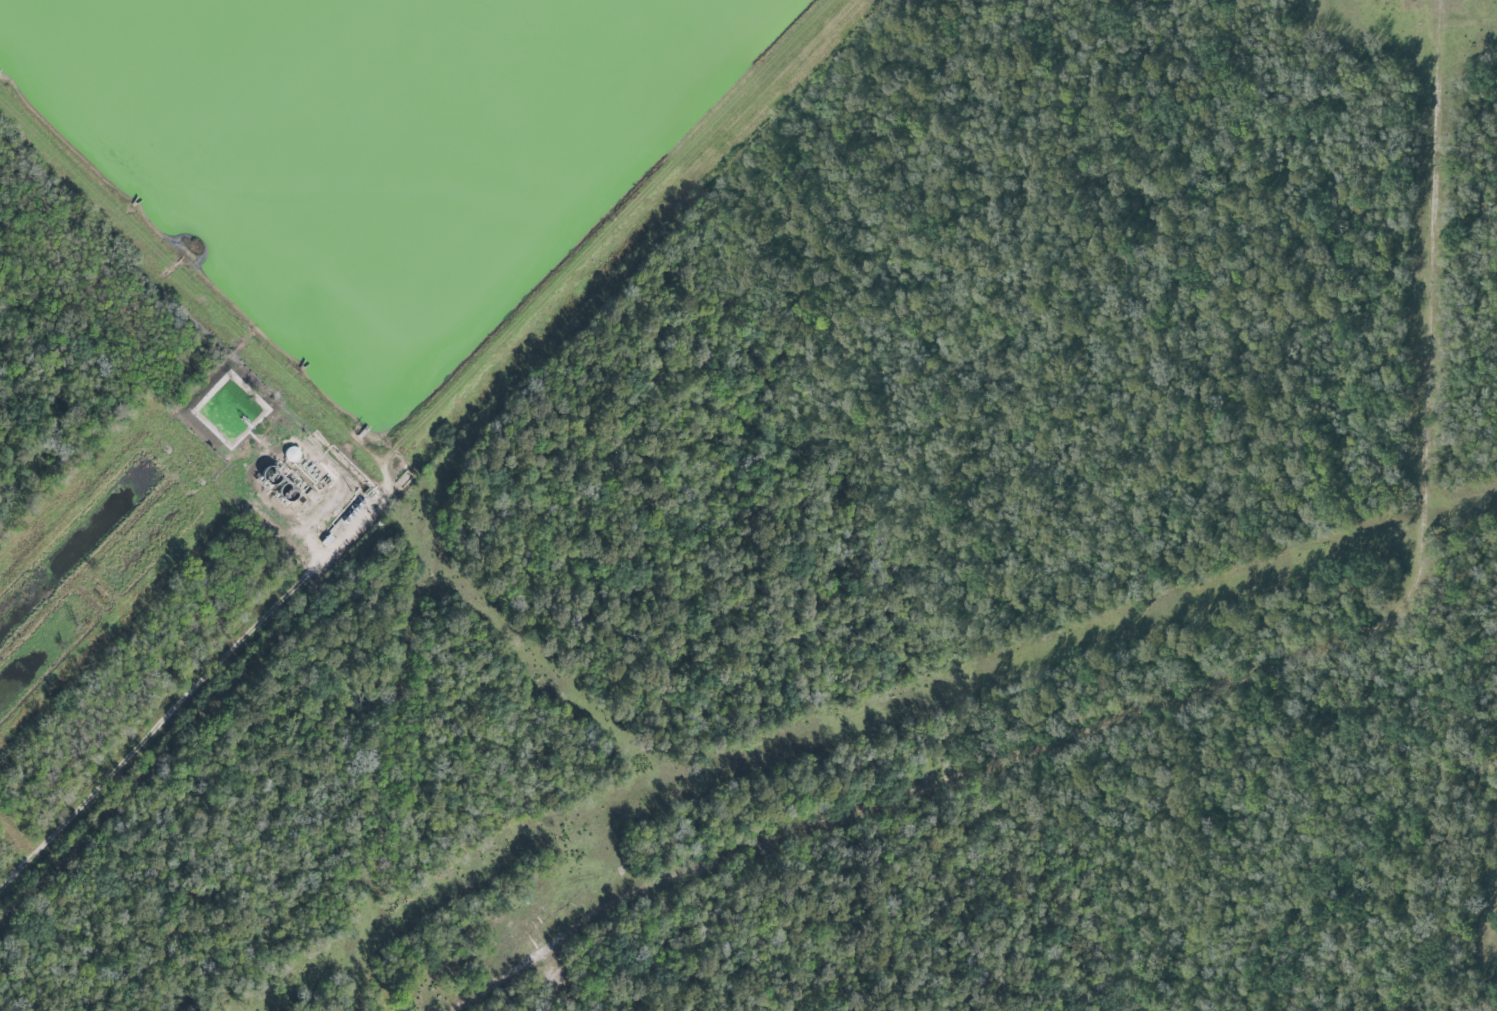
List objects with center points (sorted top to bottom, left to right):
road: (208, 686)
road: (1213, 688)
road: (21, 835)

